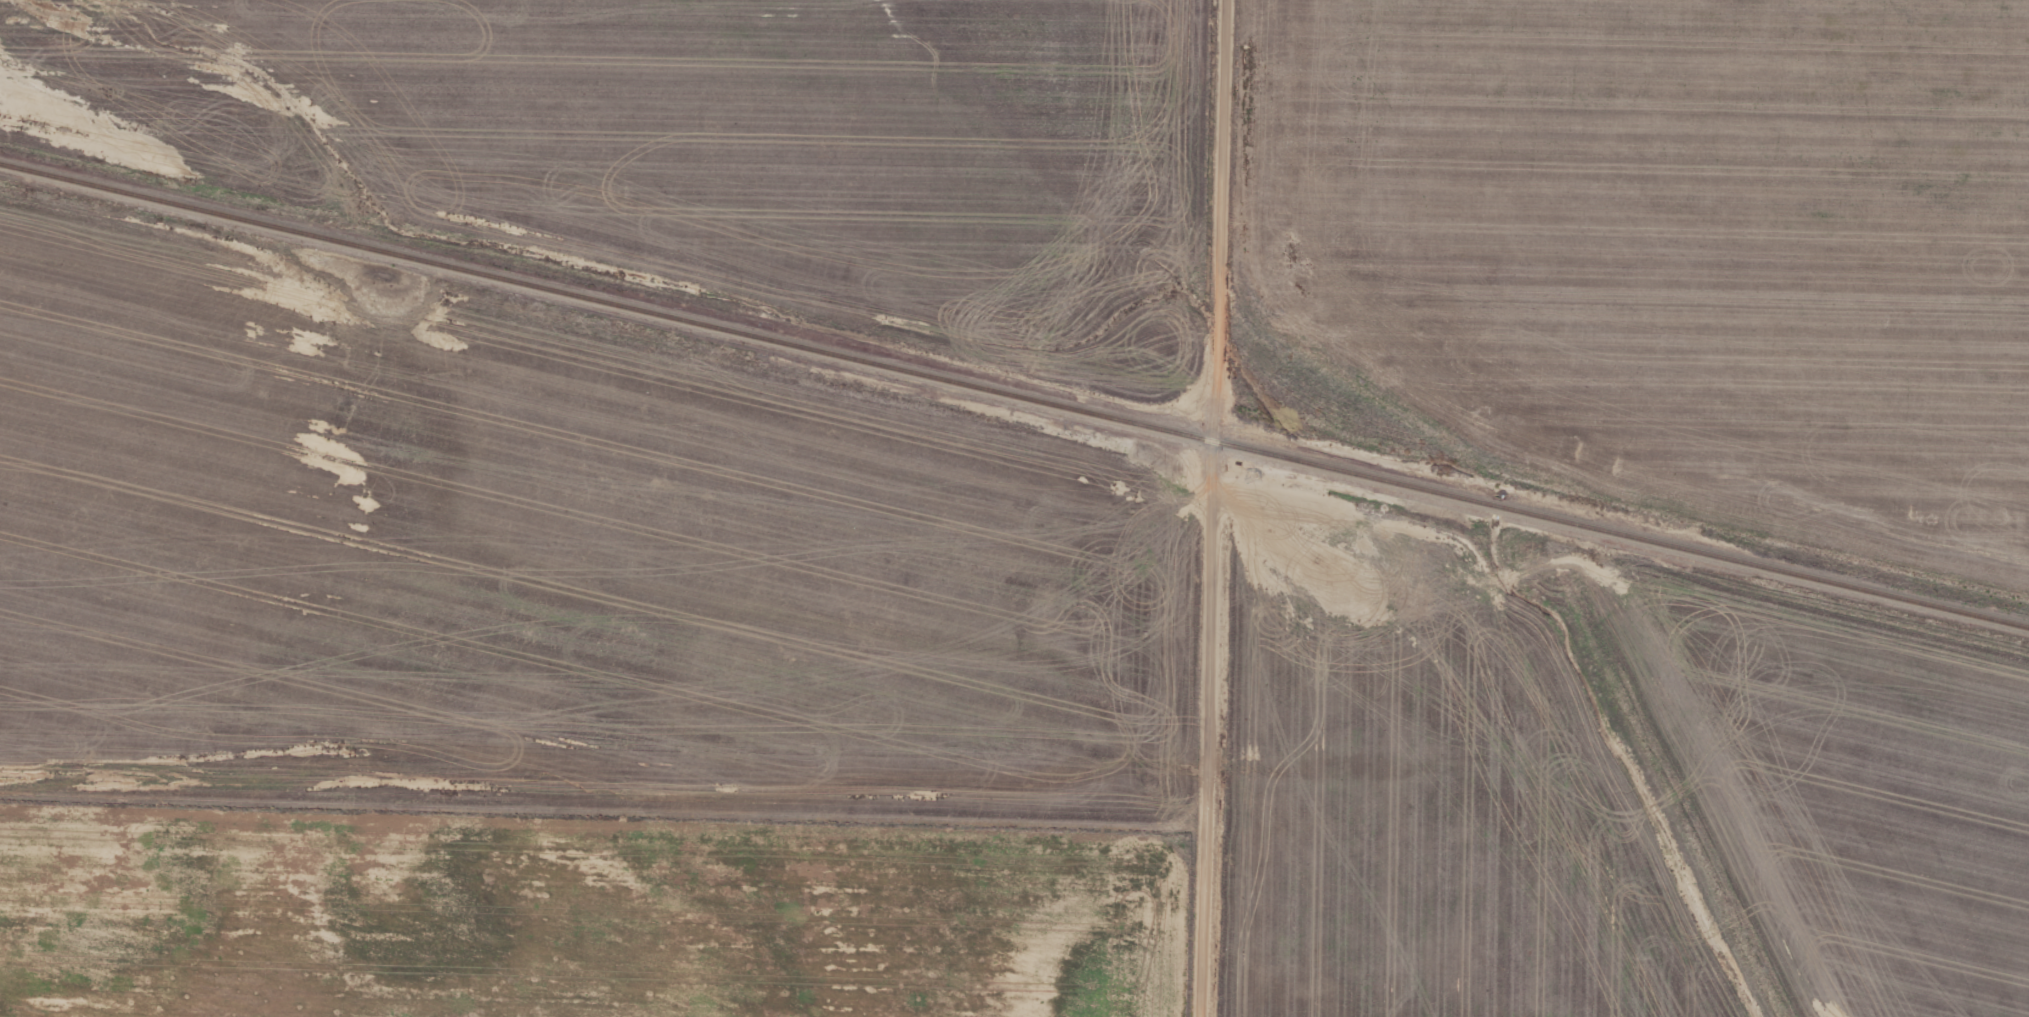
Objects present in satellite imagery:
railway: (1014, 395)
road: (1214, 508)

